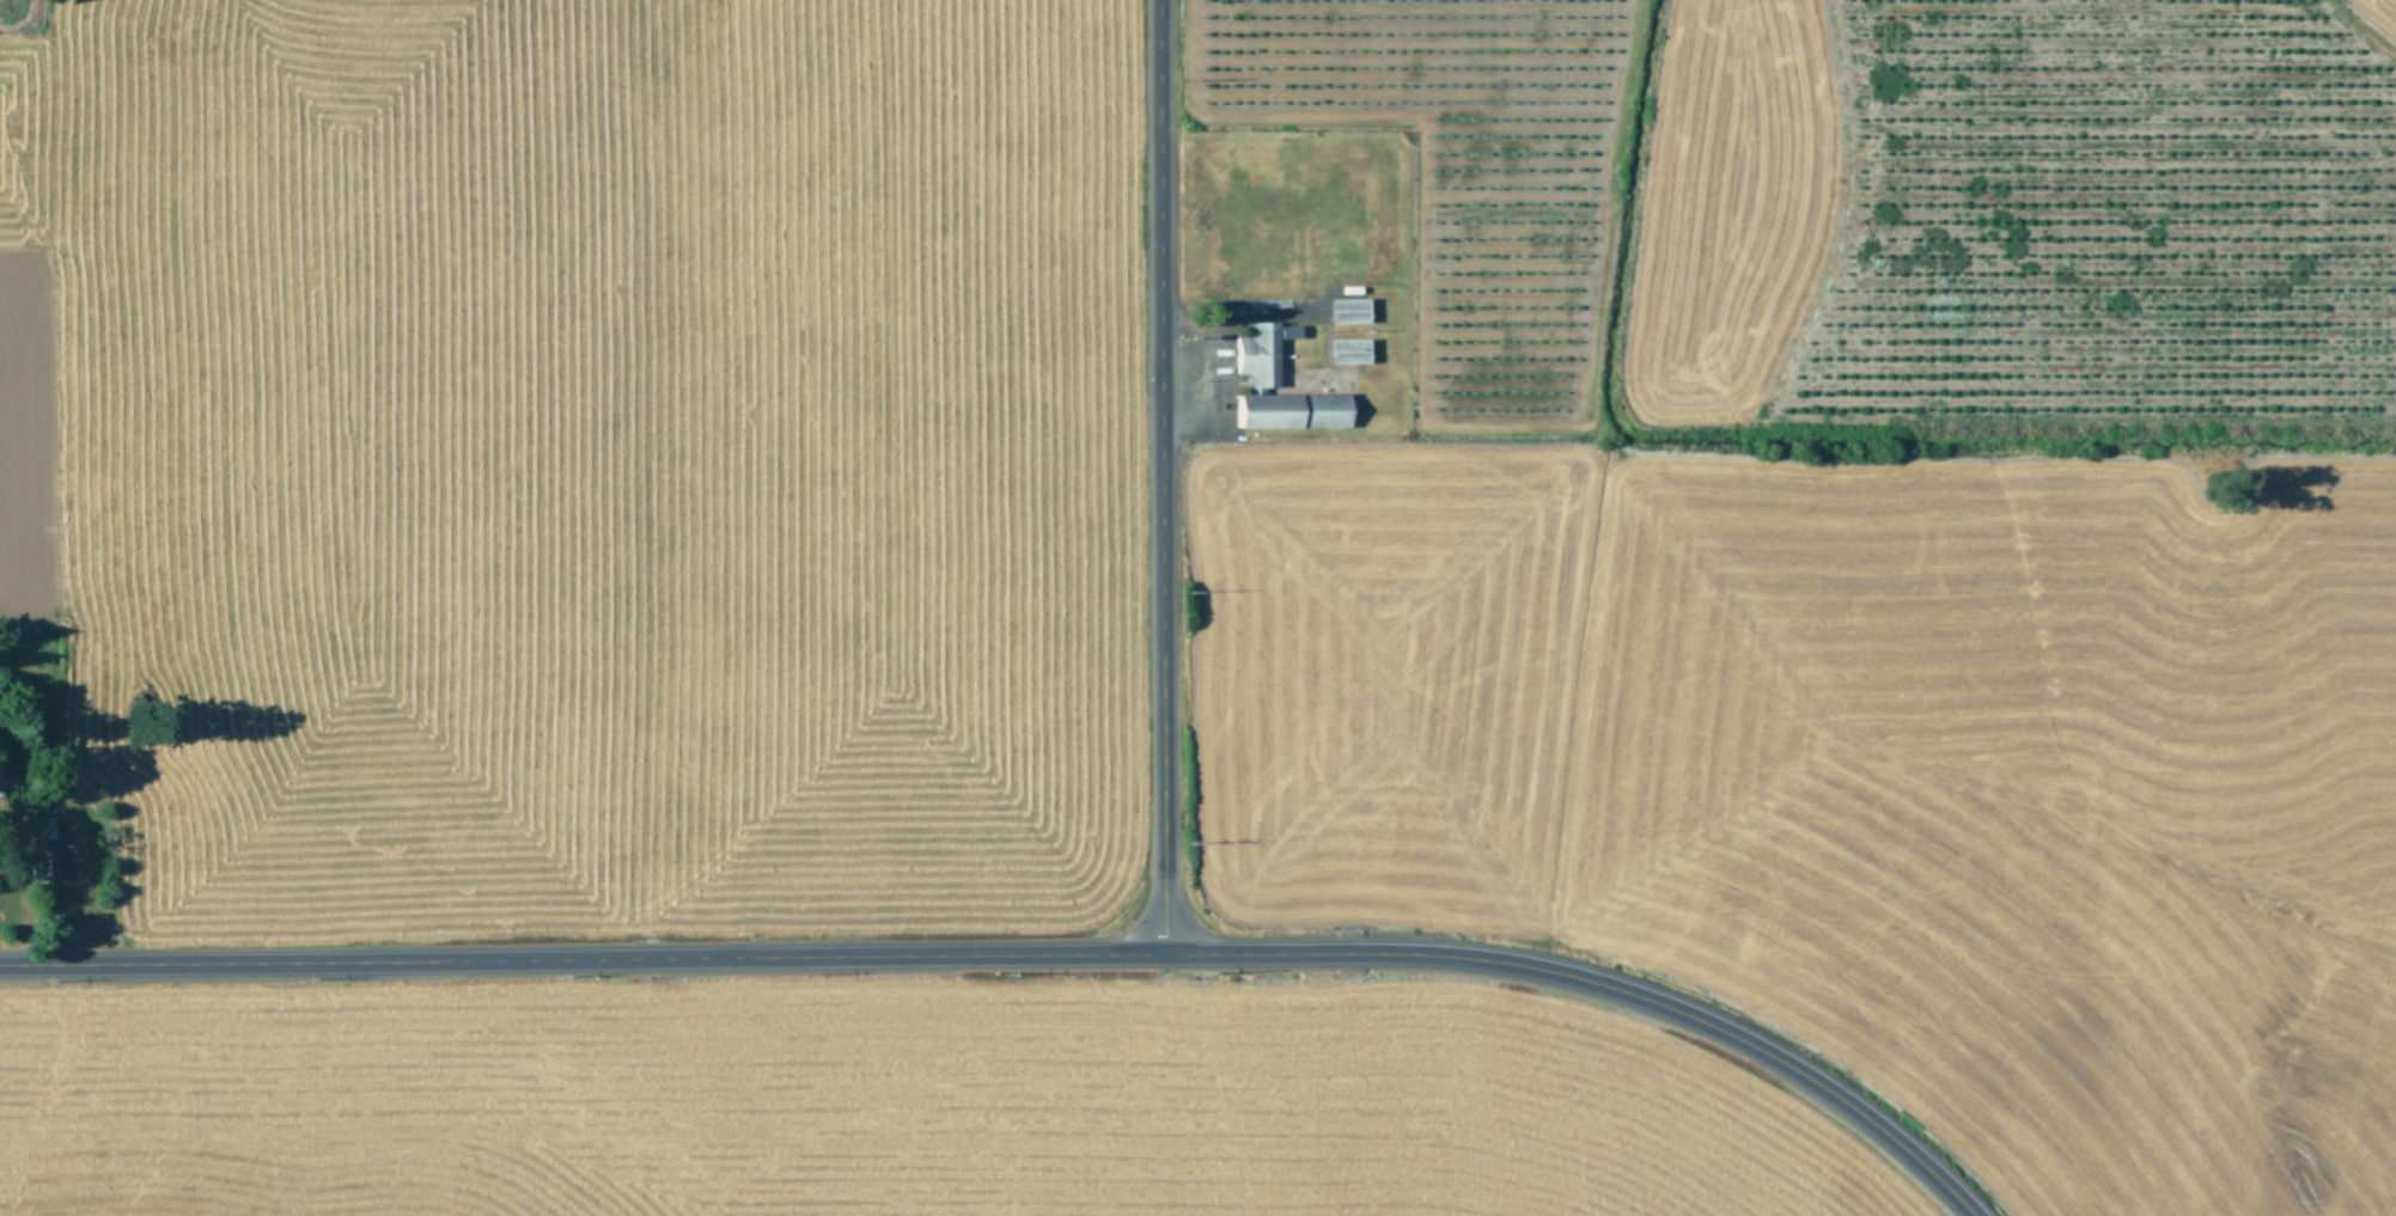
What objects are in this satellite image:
building: (1209, 299)
building: (1342, 311)
building: (1345, 353)
building: (1339, 378)
building: (1256, 380)
road: (1160, 476)
crop: (1197, 607)
road: (1022, 953)

